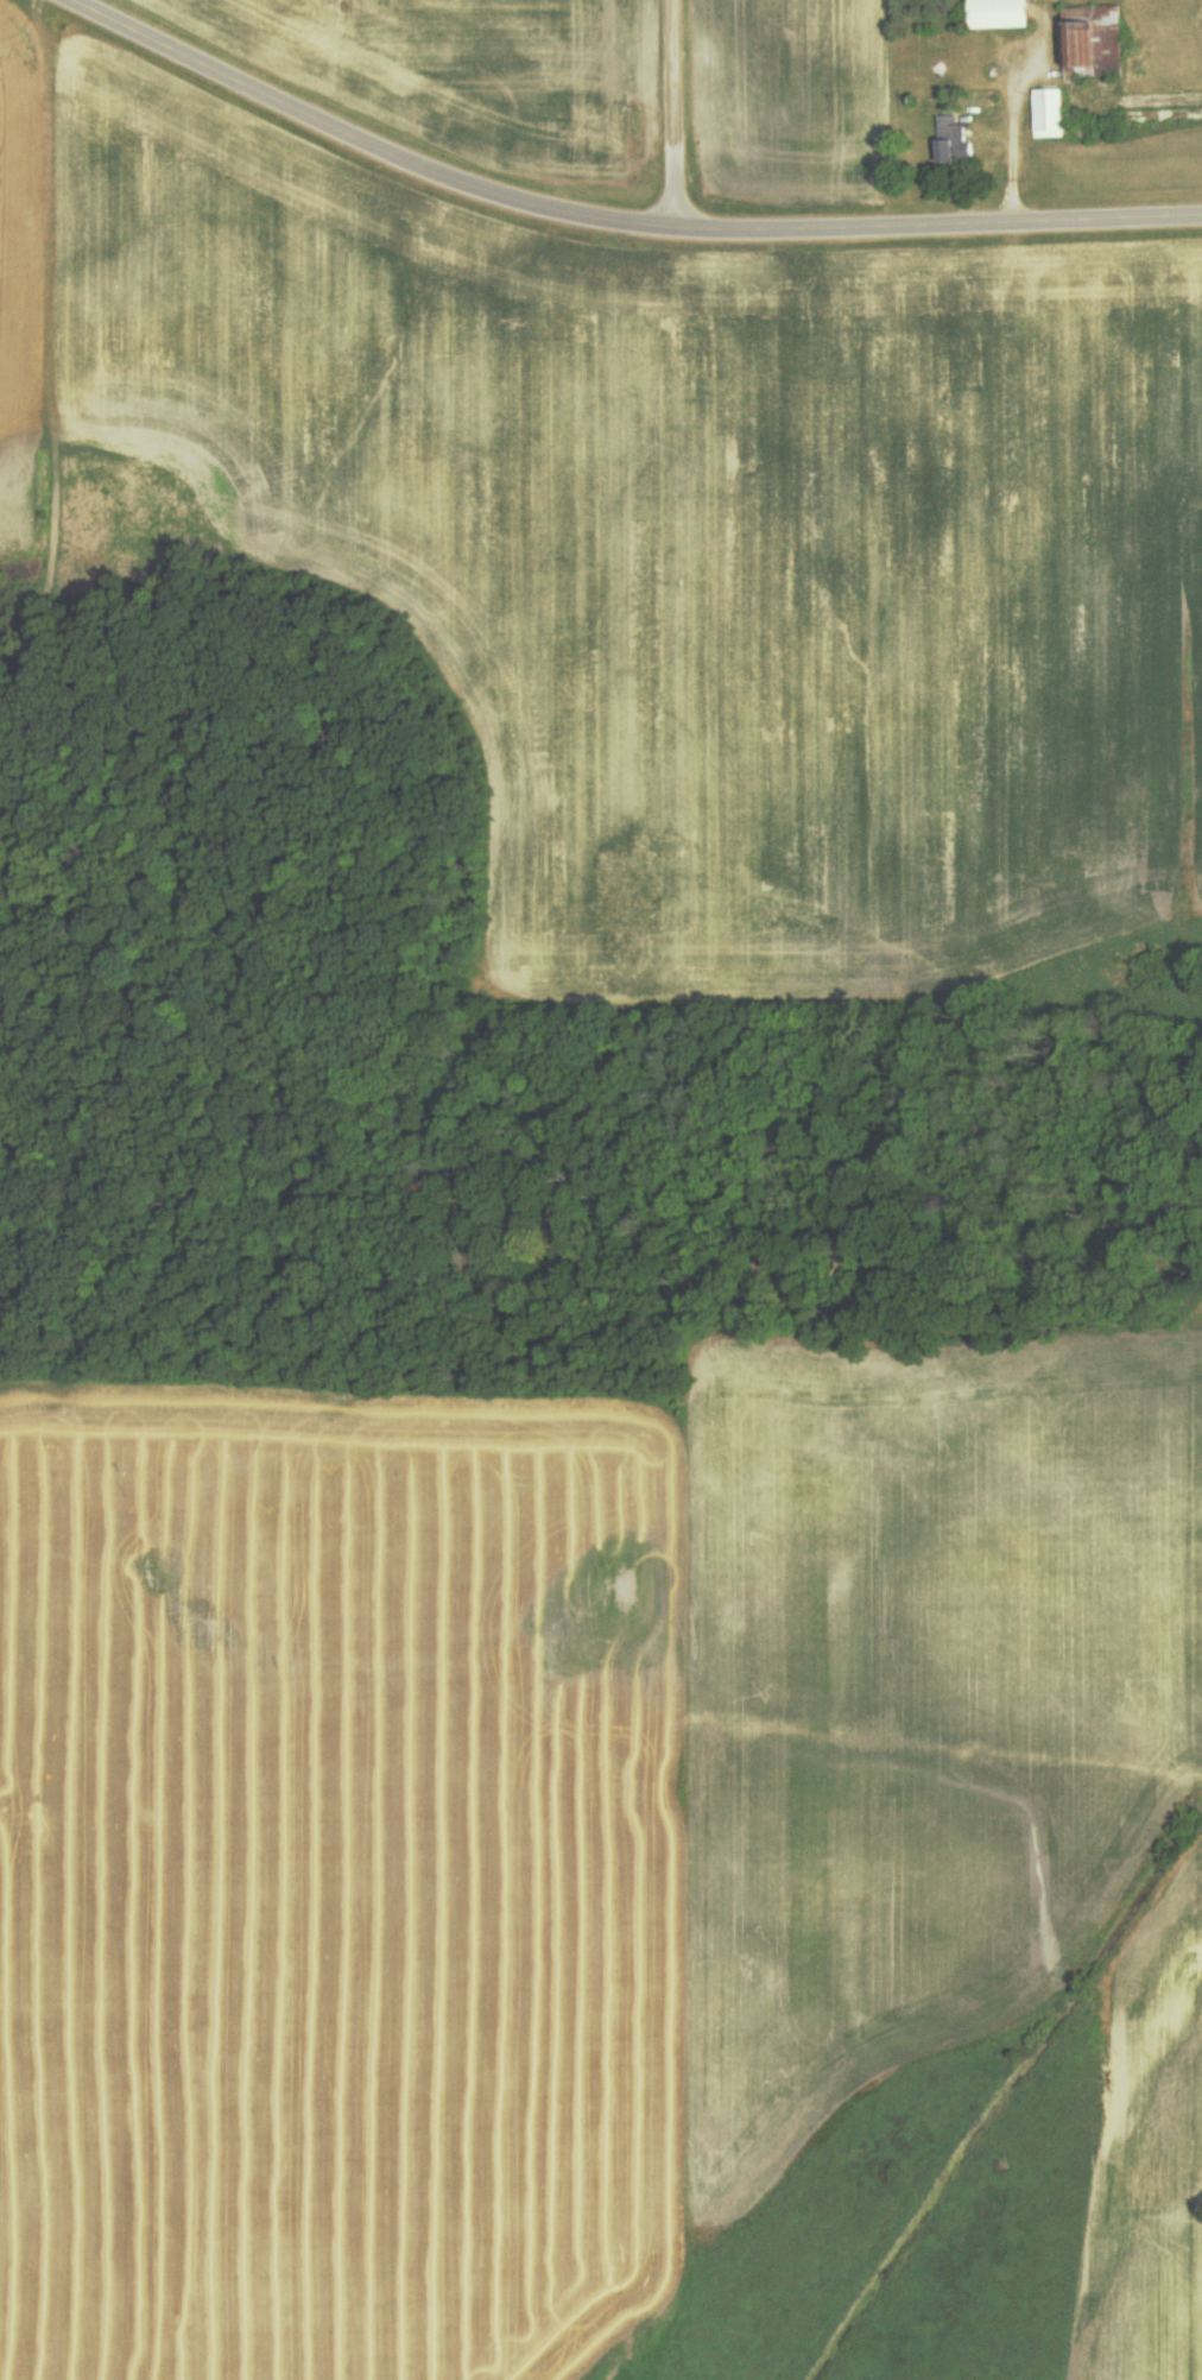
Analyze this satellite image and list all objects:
building: (1002, 14)
building: (1094, 38)
crop: (476, 72)
crop: (793, 102)
building: (1050, 114)
road: (677, 116)
road: (333, 127)
building: (954, 139)
road: (940, 226)
road: (641, 232)
crop: (26, 280)
crop: (676, 547)
crop: (544, 1819)
crop: (1152, 2163)

